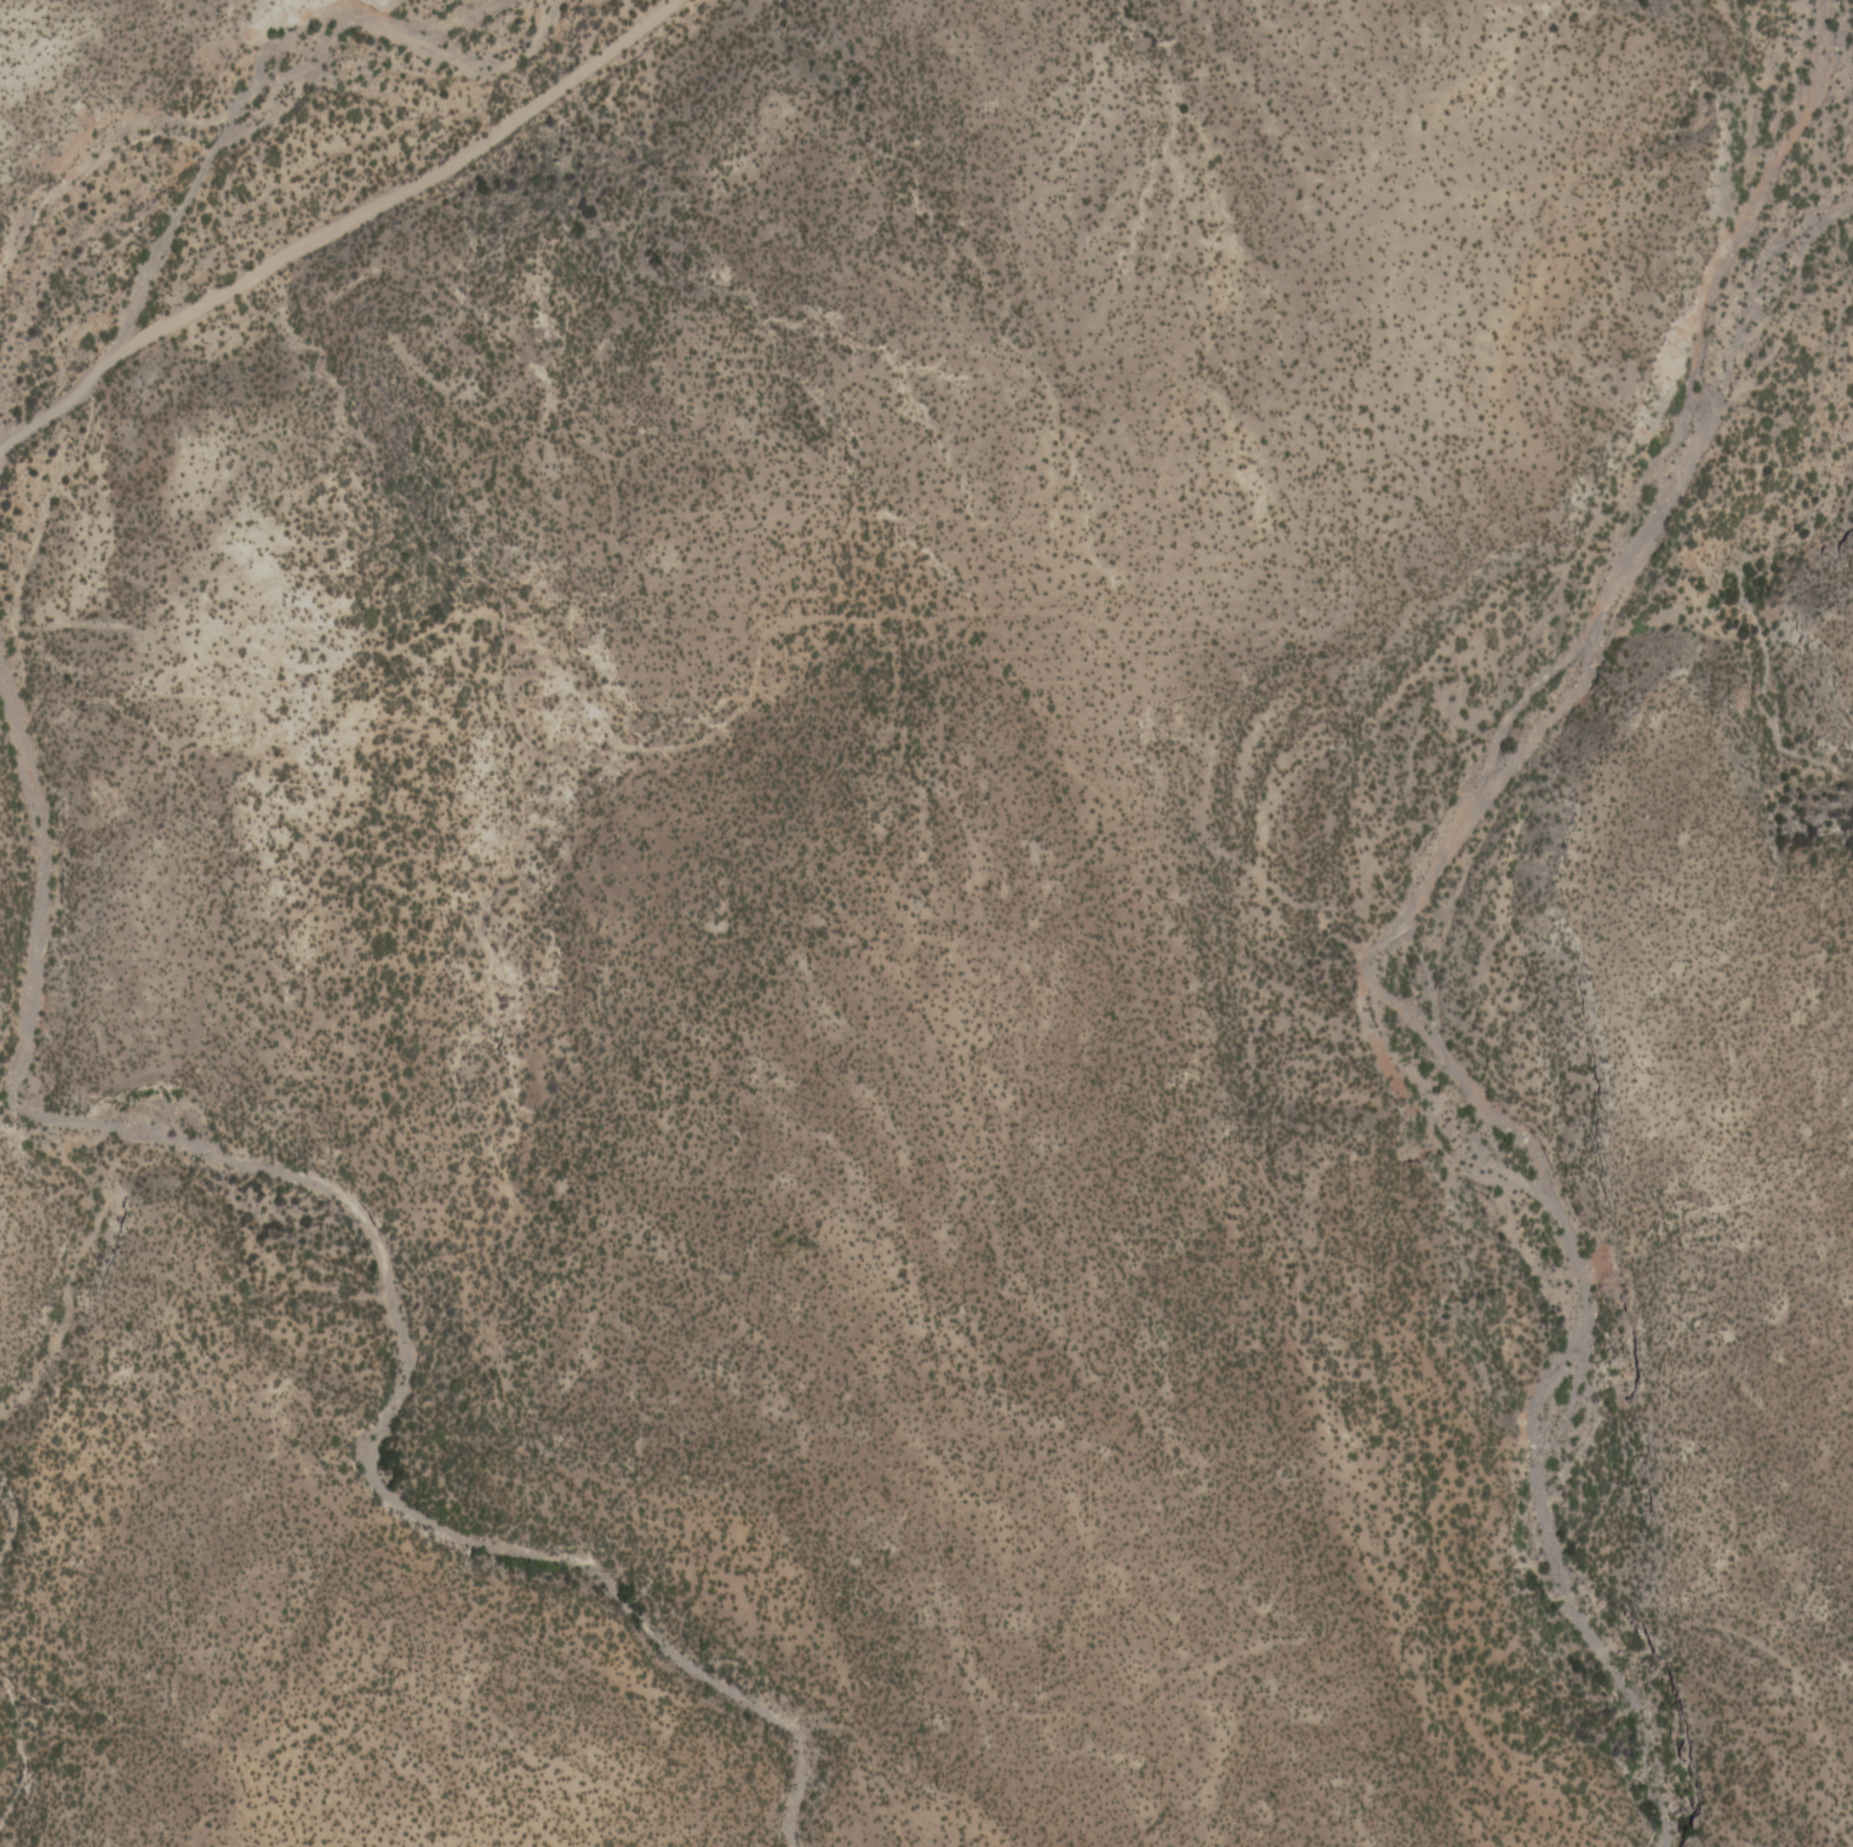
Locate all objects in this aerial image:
road: (336, 227)

